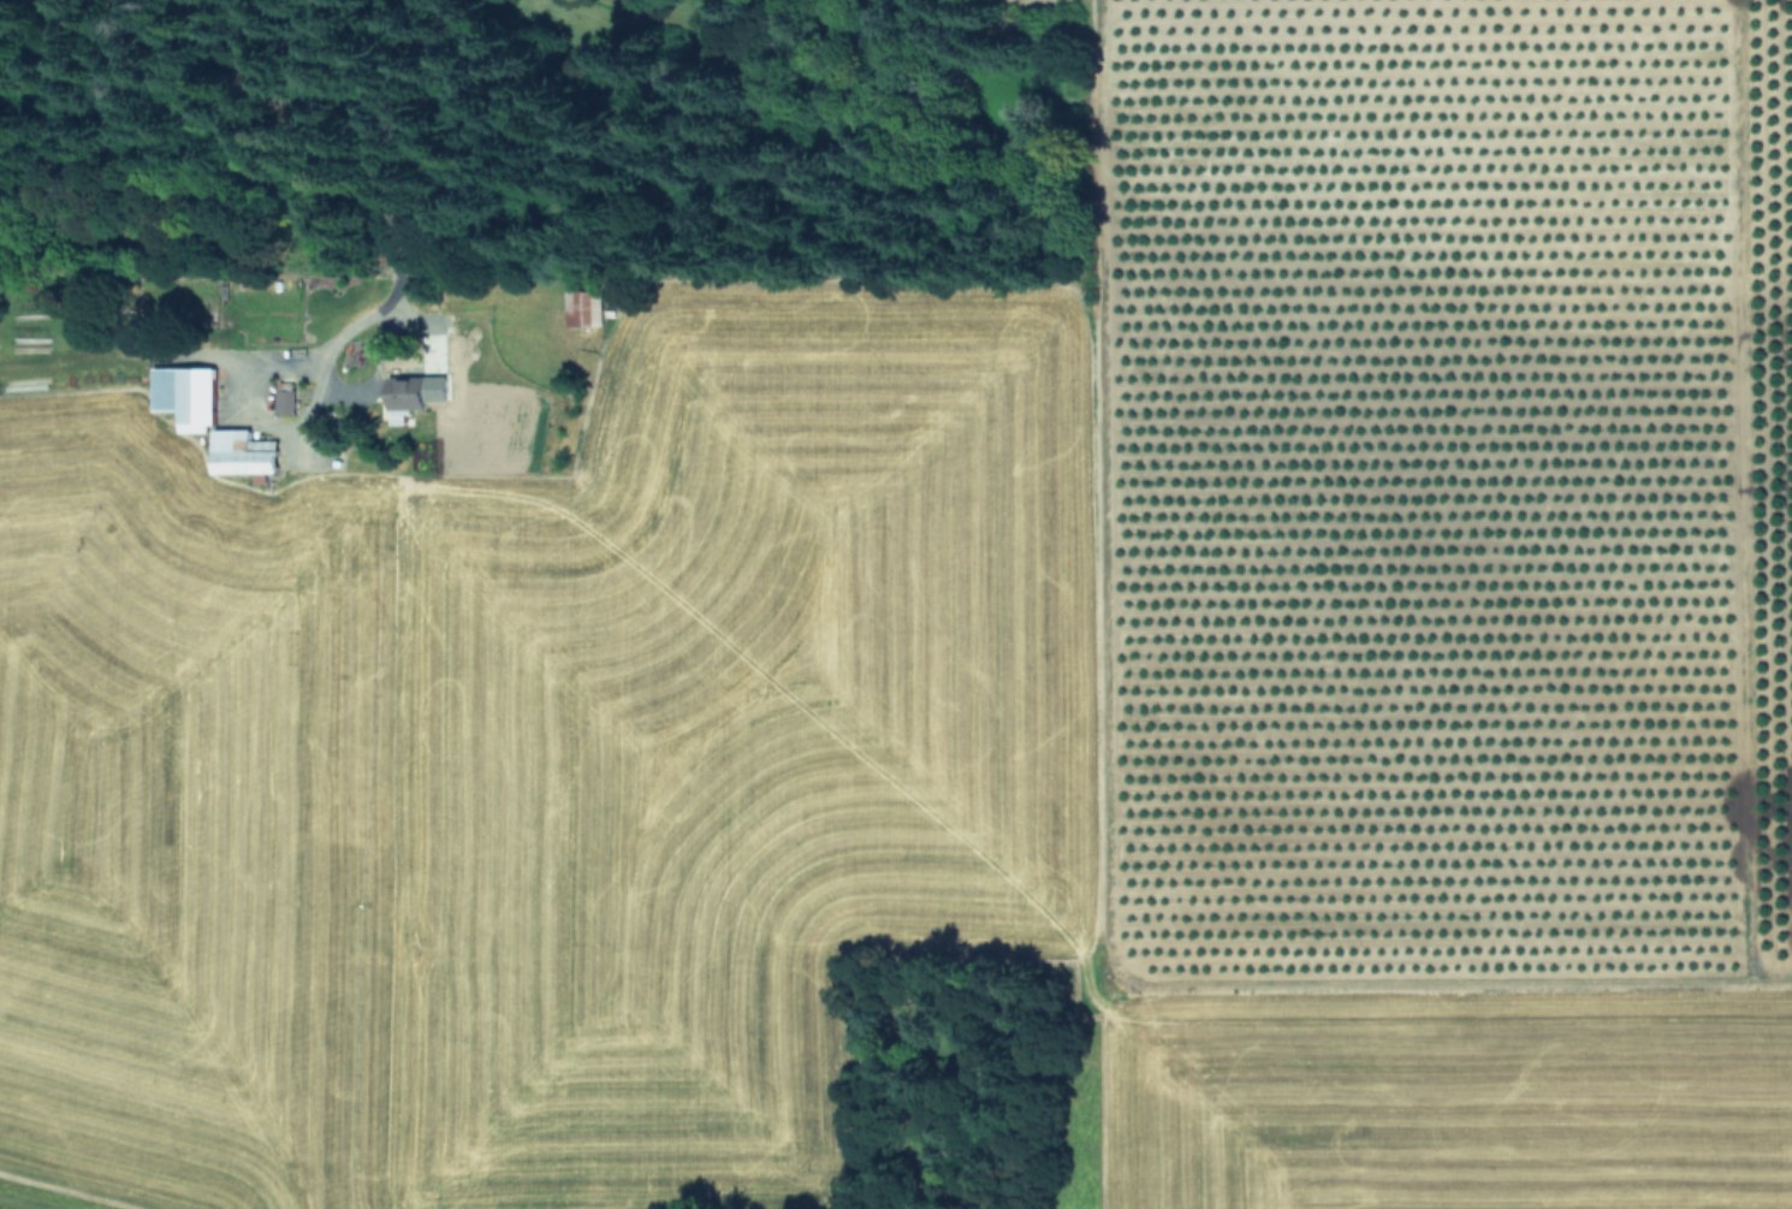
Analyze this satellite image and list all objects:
road: (394, 202)
building: (568, 314)
building: (185, 395)
building: (285, 402)
building: (243, 452)
crop: (965, 664)

